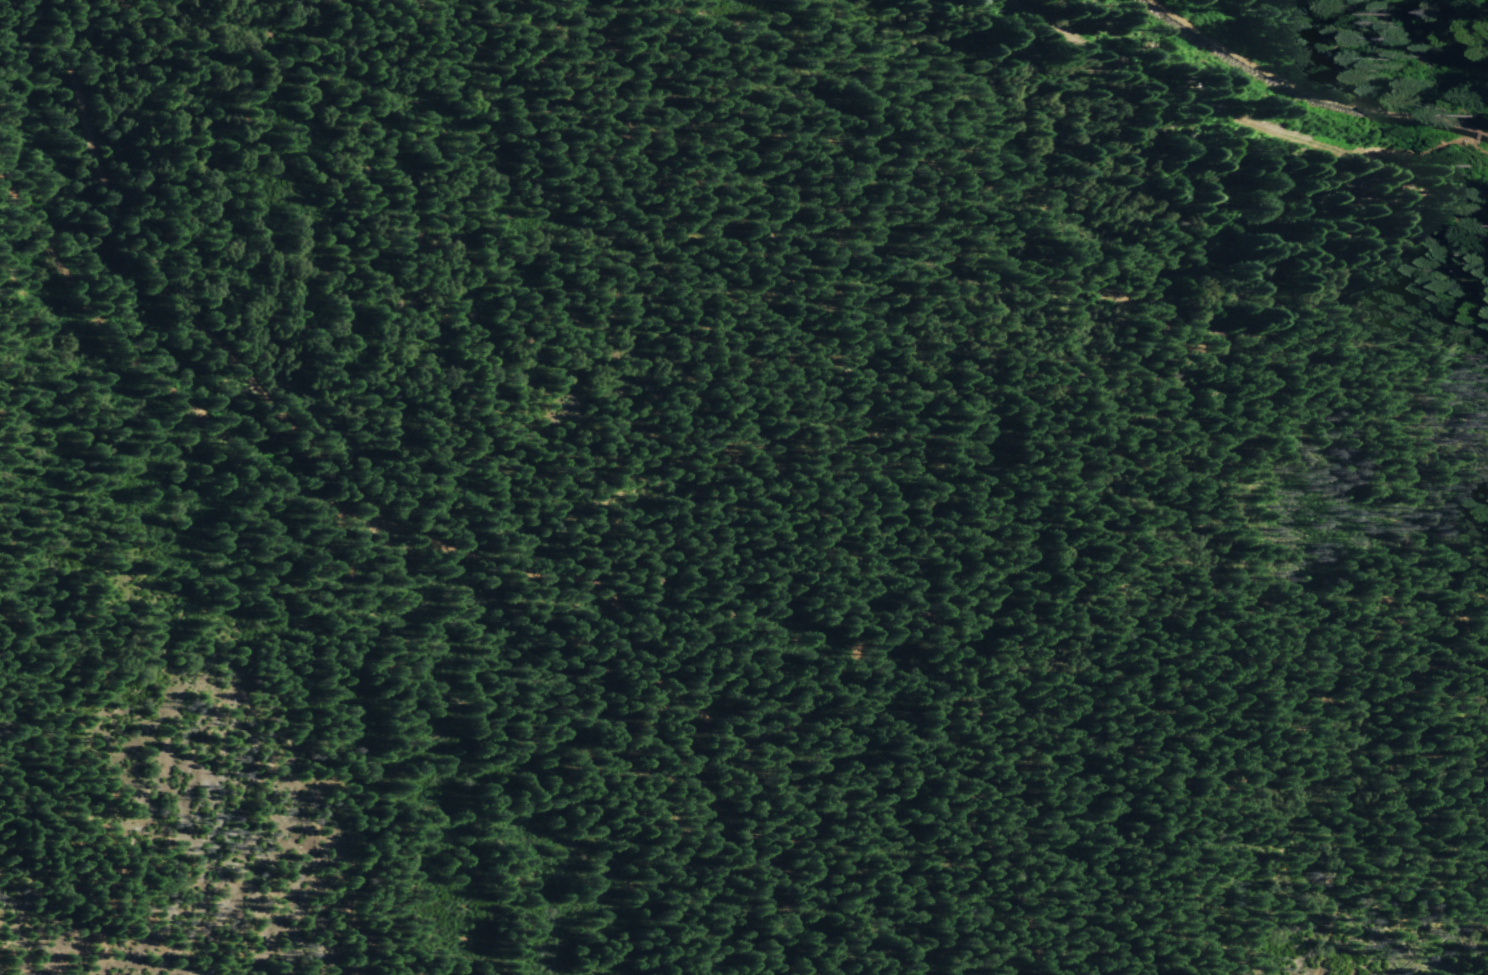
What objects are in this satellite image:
road: (1206, 113)
road: (160, 380)
road: (592, 587)
road: (1376, 767)

